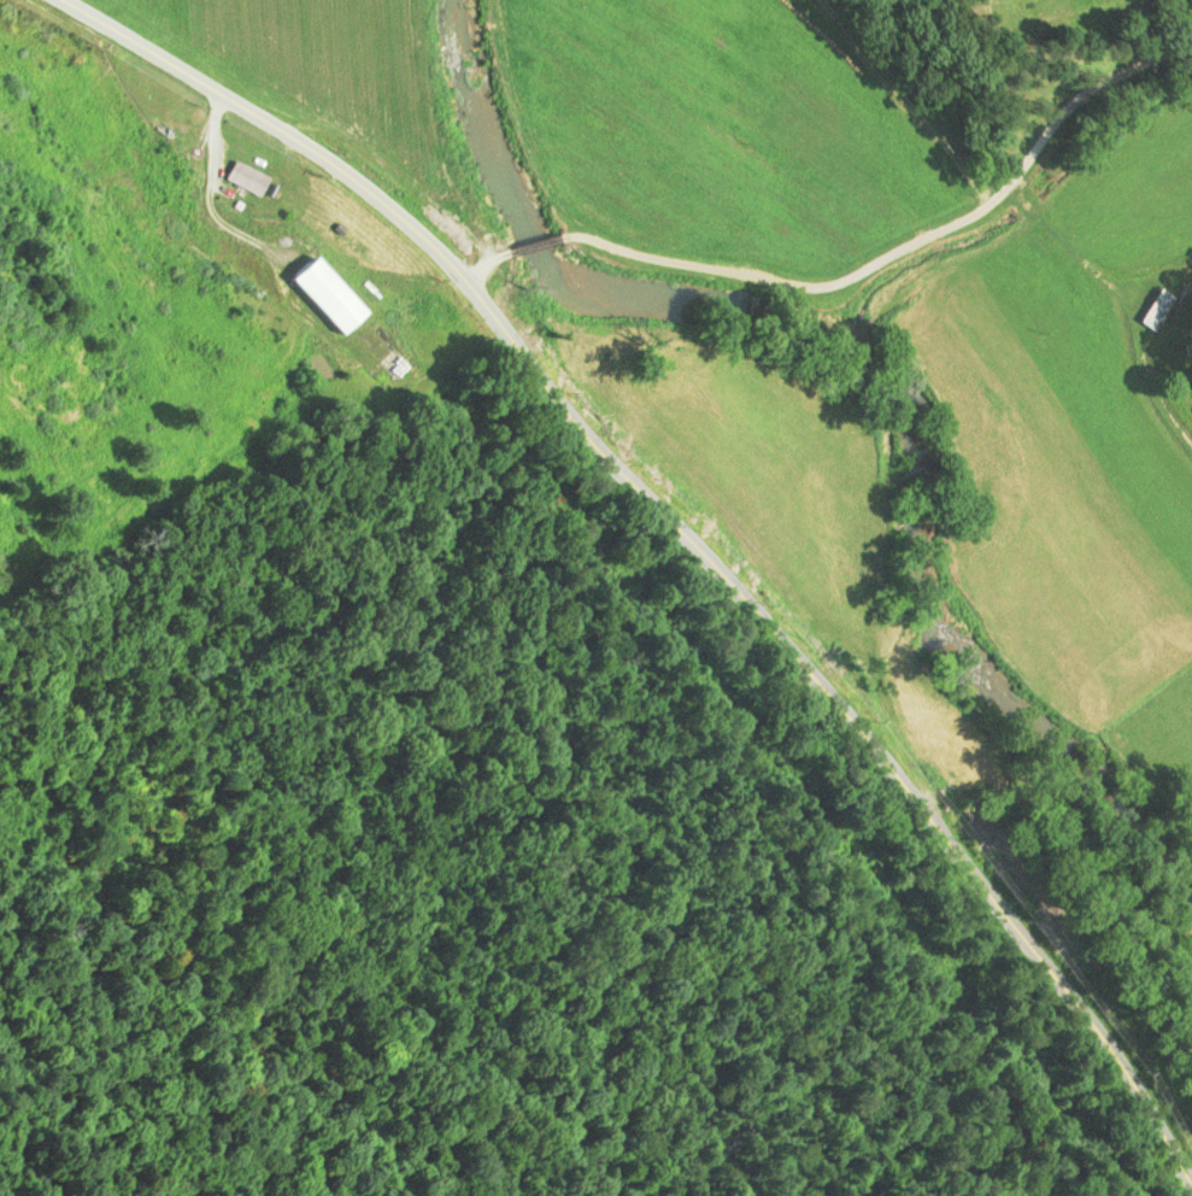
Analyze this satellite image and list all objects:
building: (247, 177)
road: (525, 239)
road: (903, 251)
road: (471, 257)
building: (319, 293)
building: (1156, 309)
river: (881, 386)
road: (682, 537)

